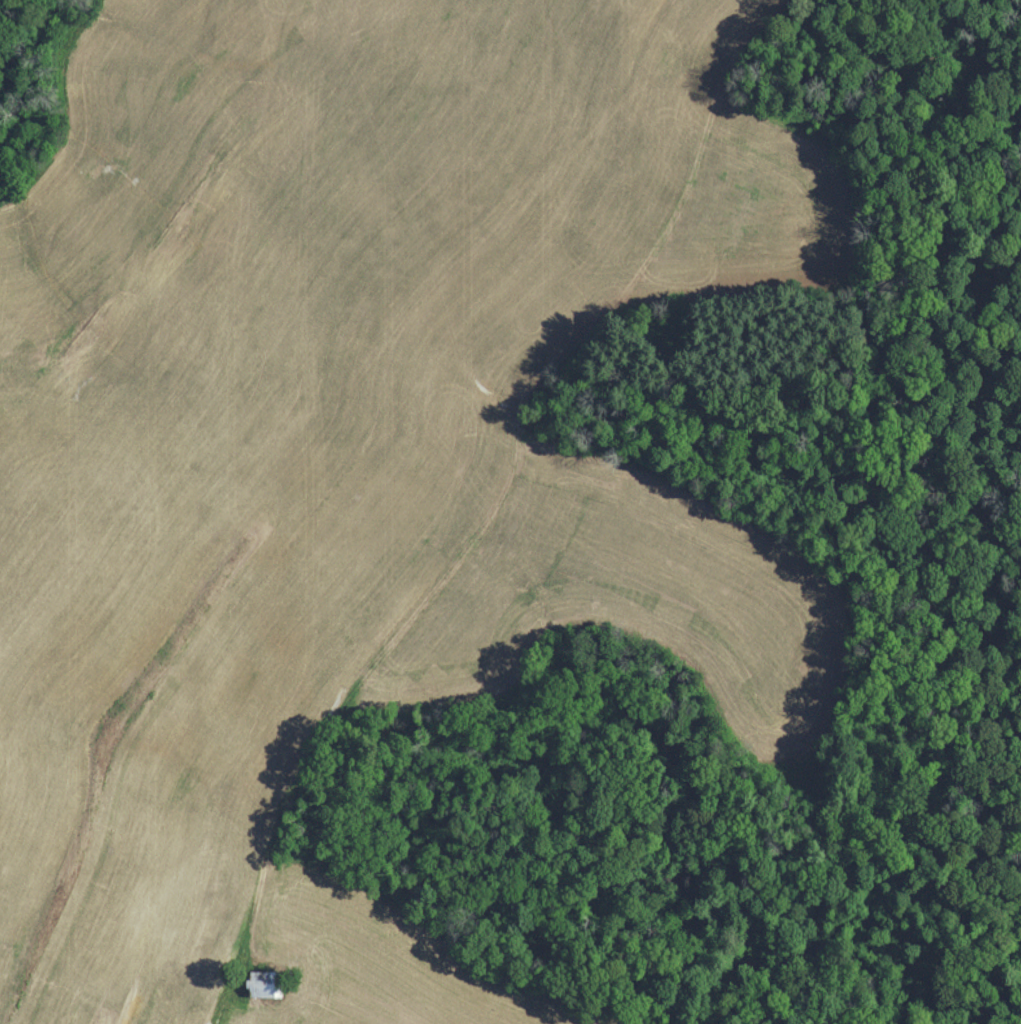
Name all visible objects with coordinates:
building: (267, 983)

